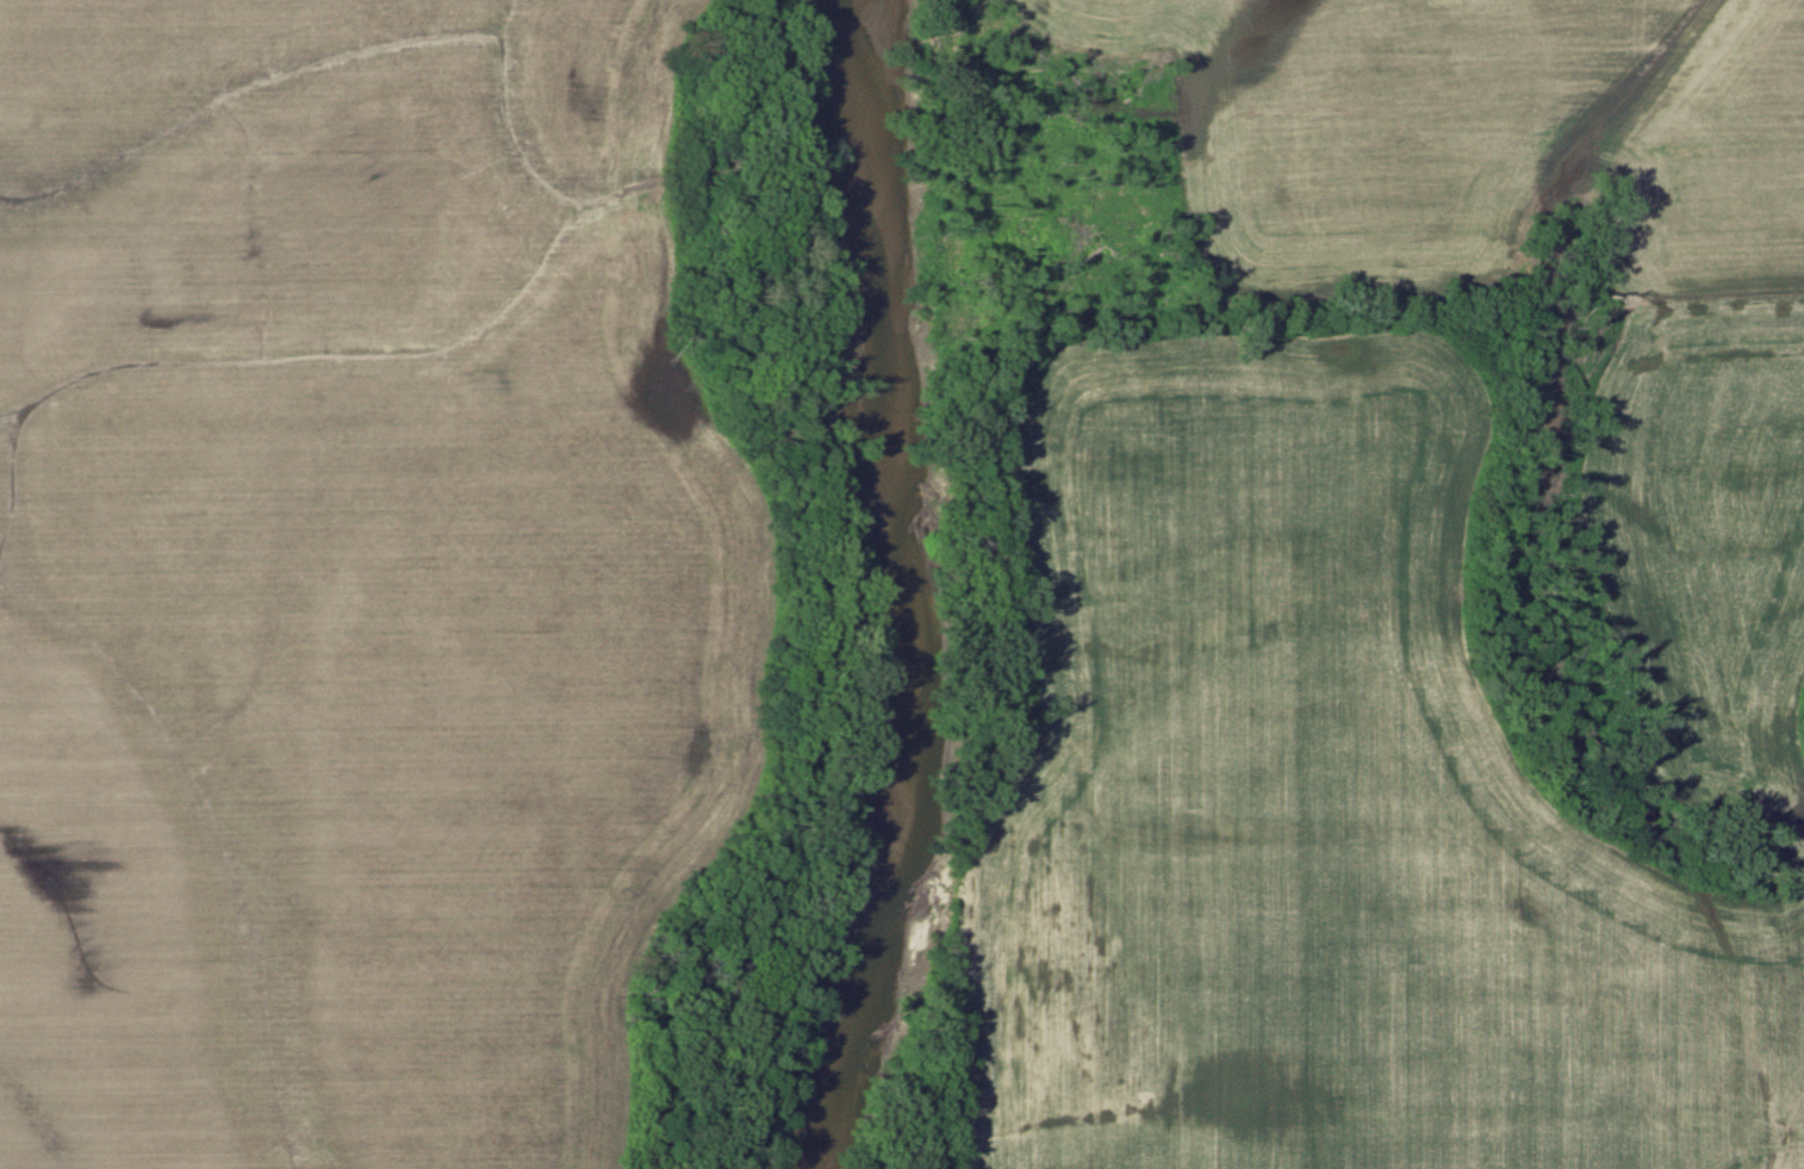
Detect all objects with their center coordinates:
crop: (349, 590)
crop: (1324, 813)

